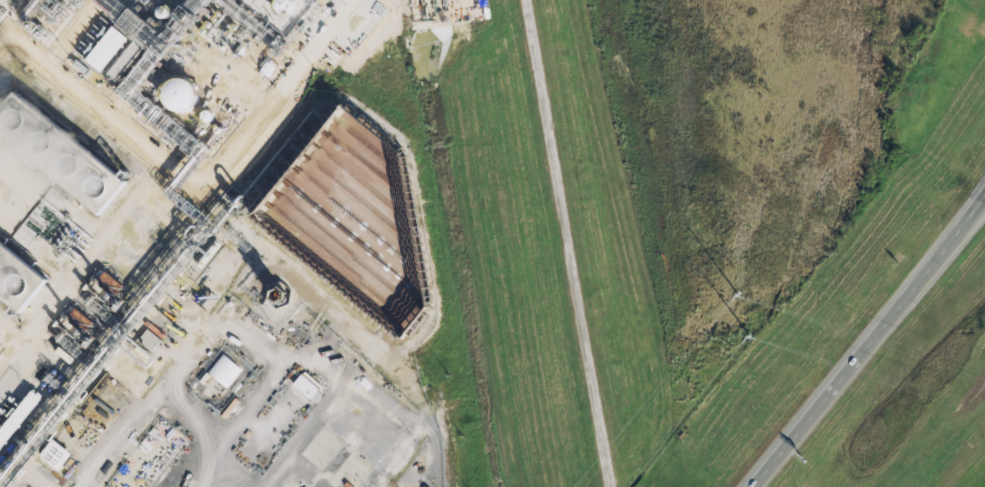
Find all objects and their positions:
building: (7, 6)
building: (107, 48)
building: (124, 59)
road: (13, 64)
building: (180, 94)
building: (206, 116)
building: (72, 161)
road: (242, 235)
road: (568, 243)
building: (278, 294)
building: (148, 339)
road: (871, 342)
building: (220, 367)
building: (301, 386)
building: (15, 412)
building: (373, 435)
building: (52, 450)

